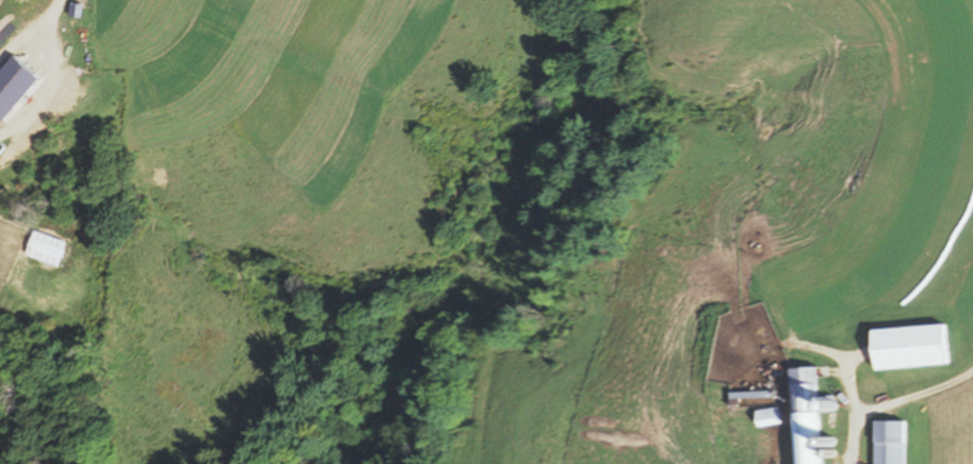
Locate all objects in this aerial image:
building: (908, 348)
road: (893, 399)
building: (770, 418)
building: (811, 418)
building: (889, 442)

